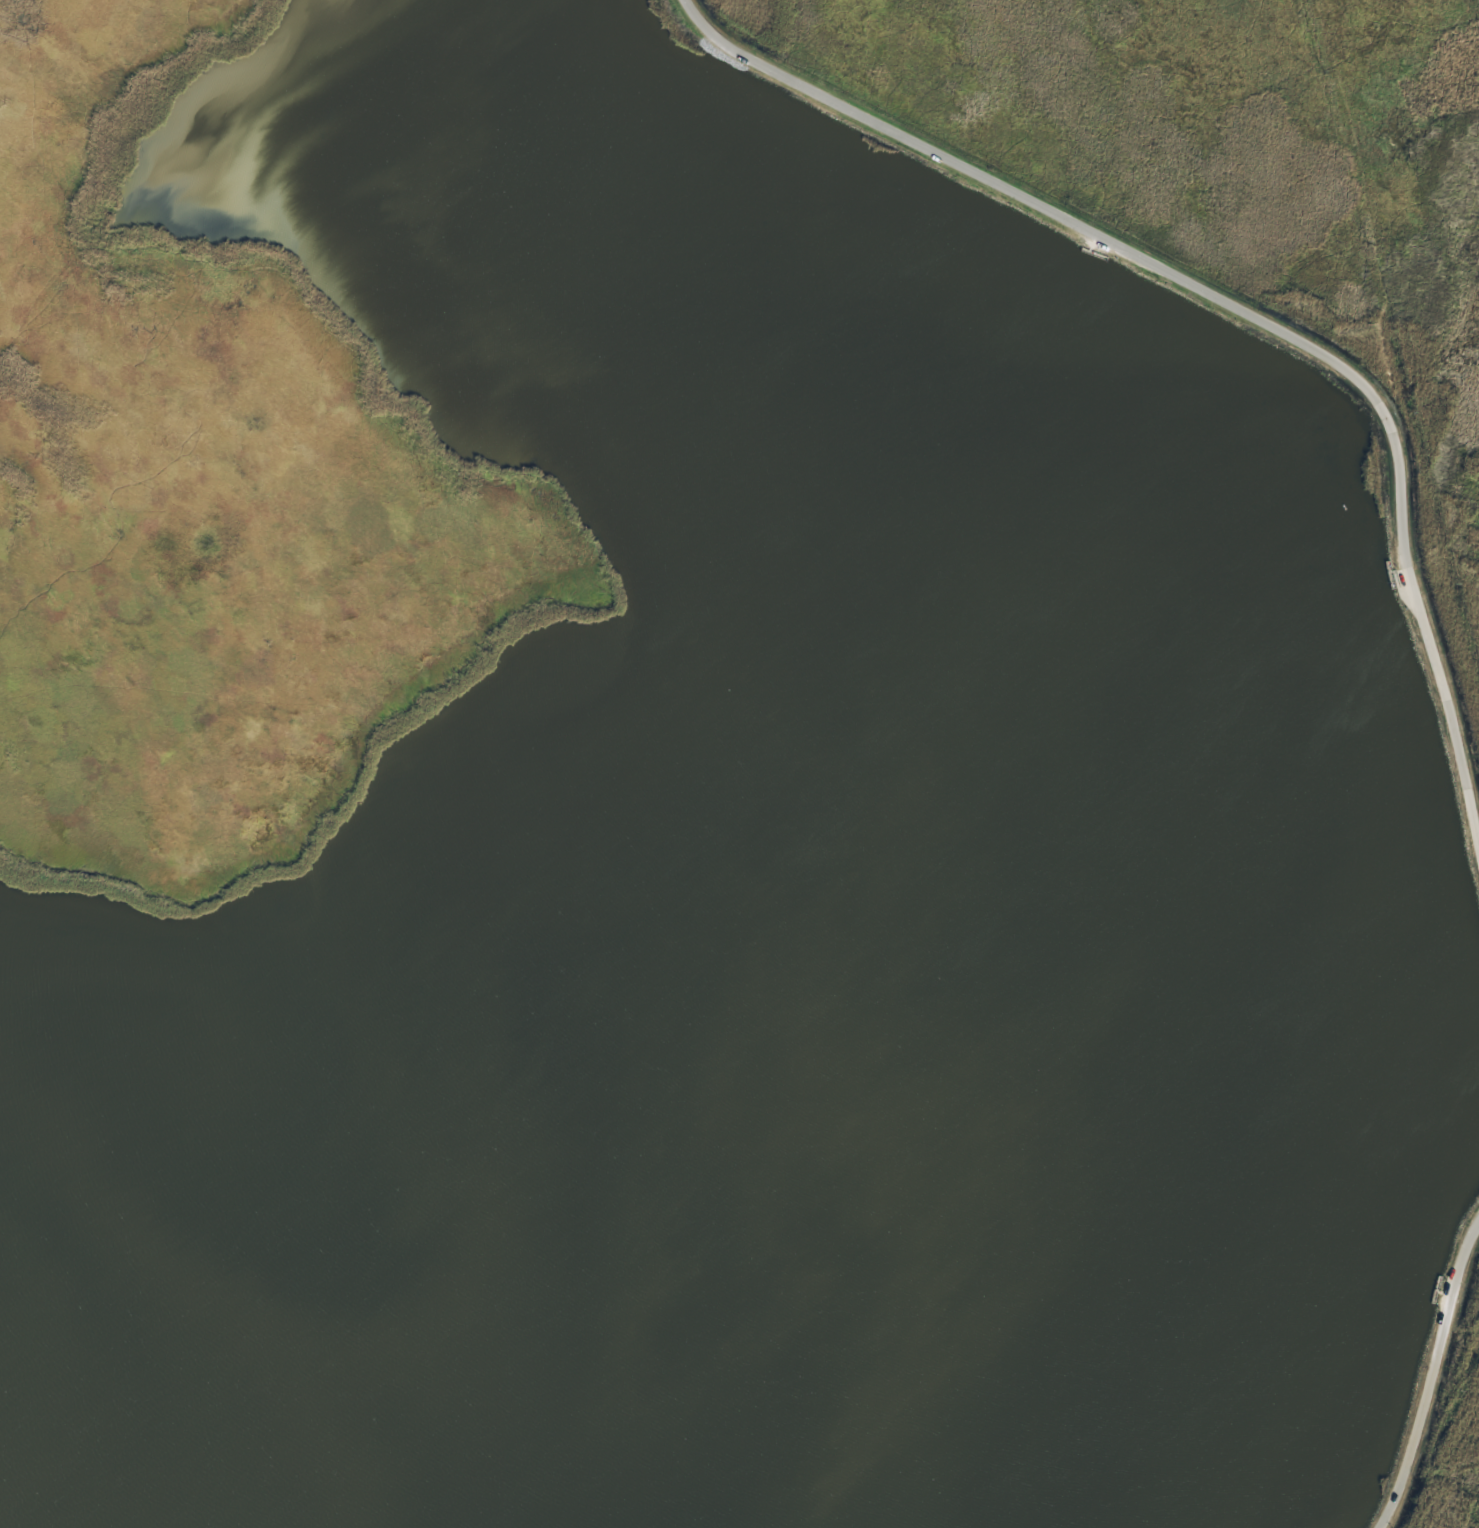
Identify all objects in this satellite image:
road: (1229, 296)
road: (1434, 1373)

